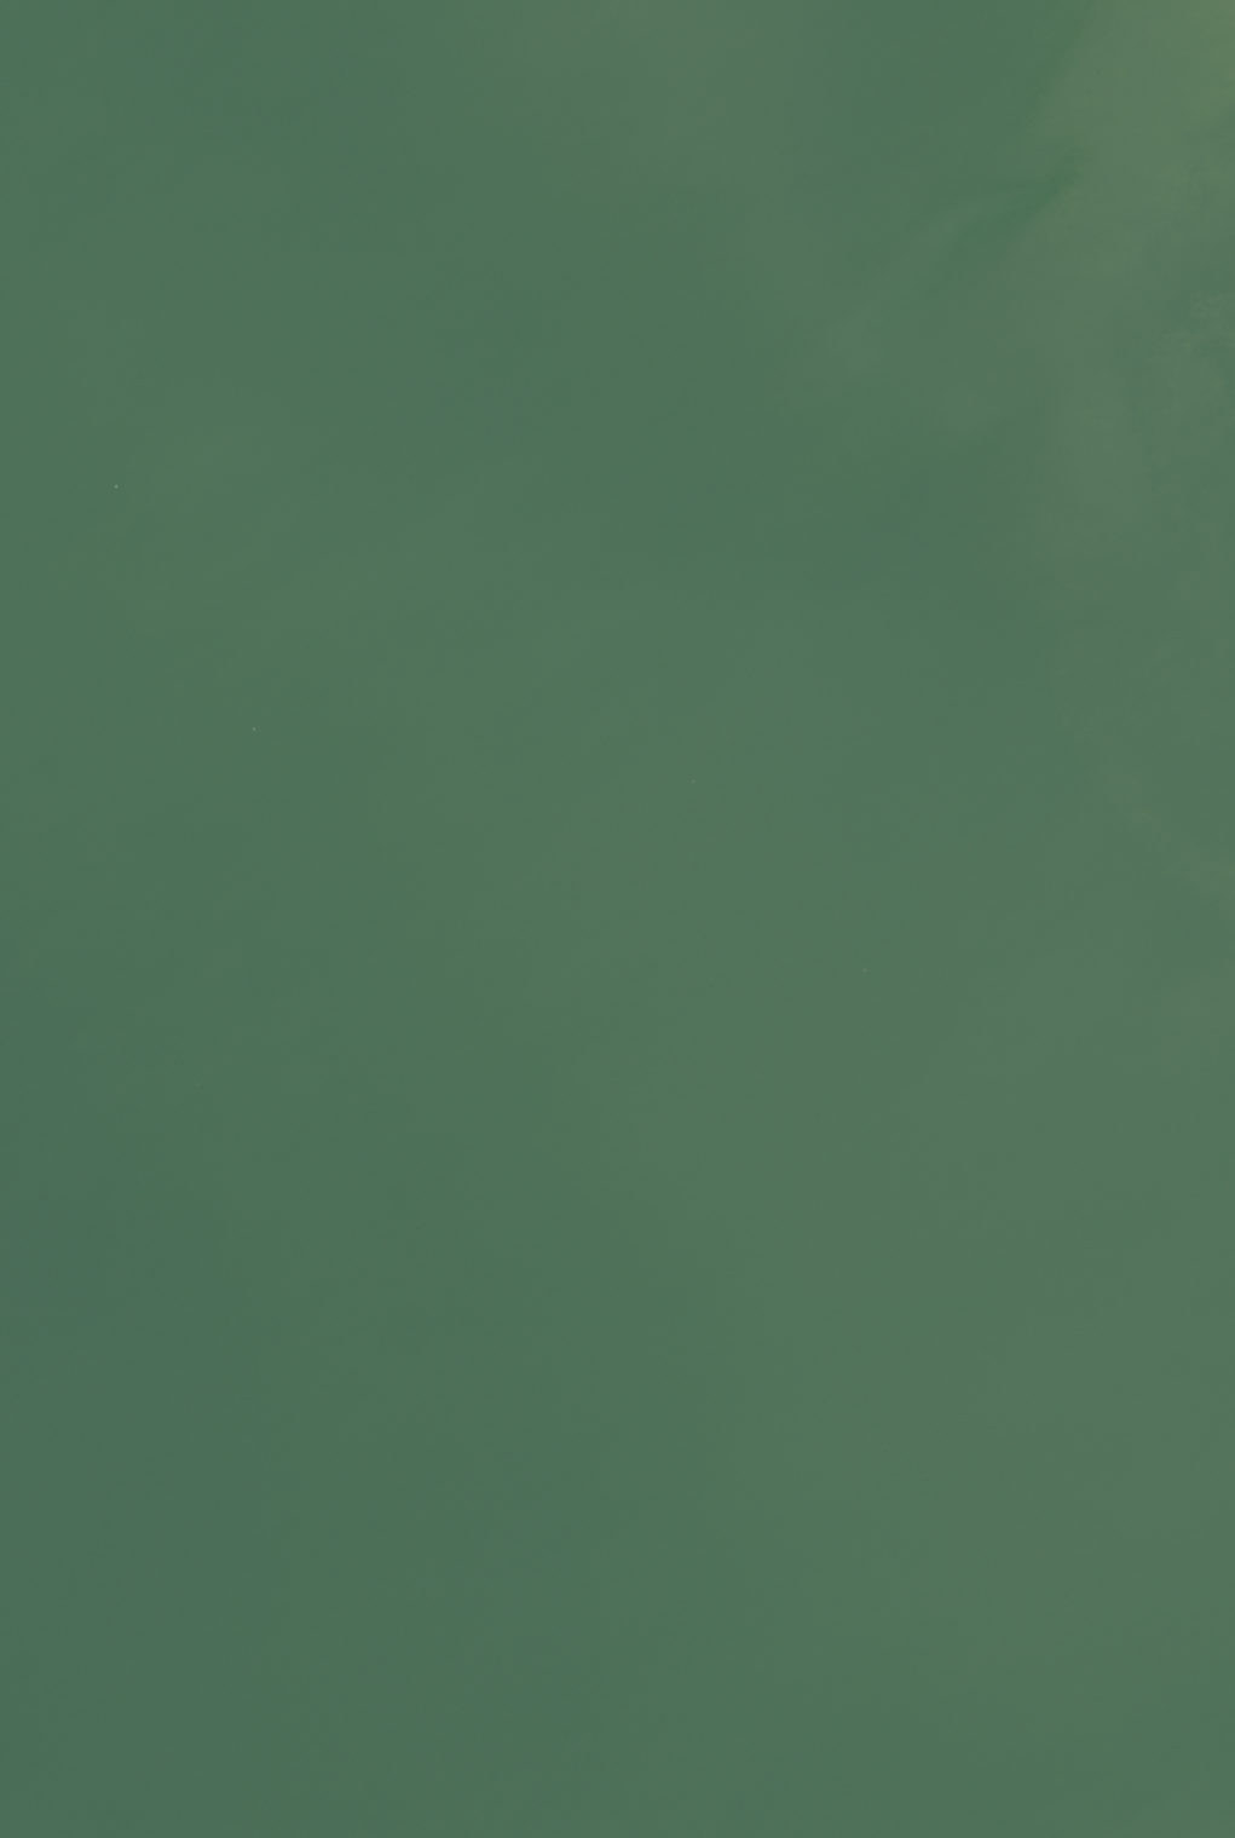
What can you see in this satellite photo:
river: (373, 1597)

